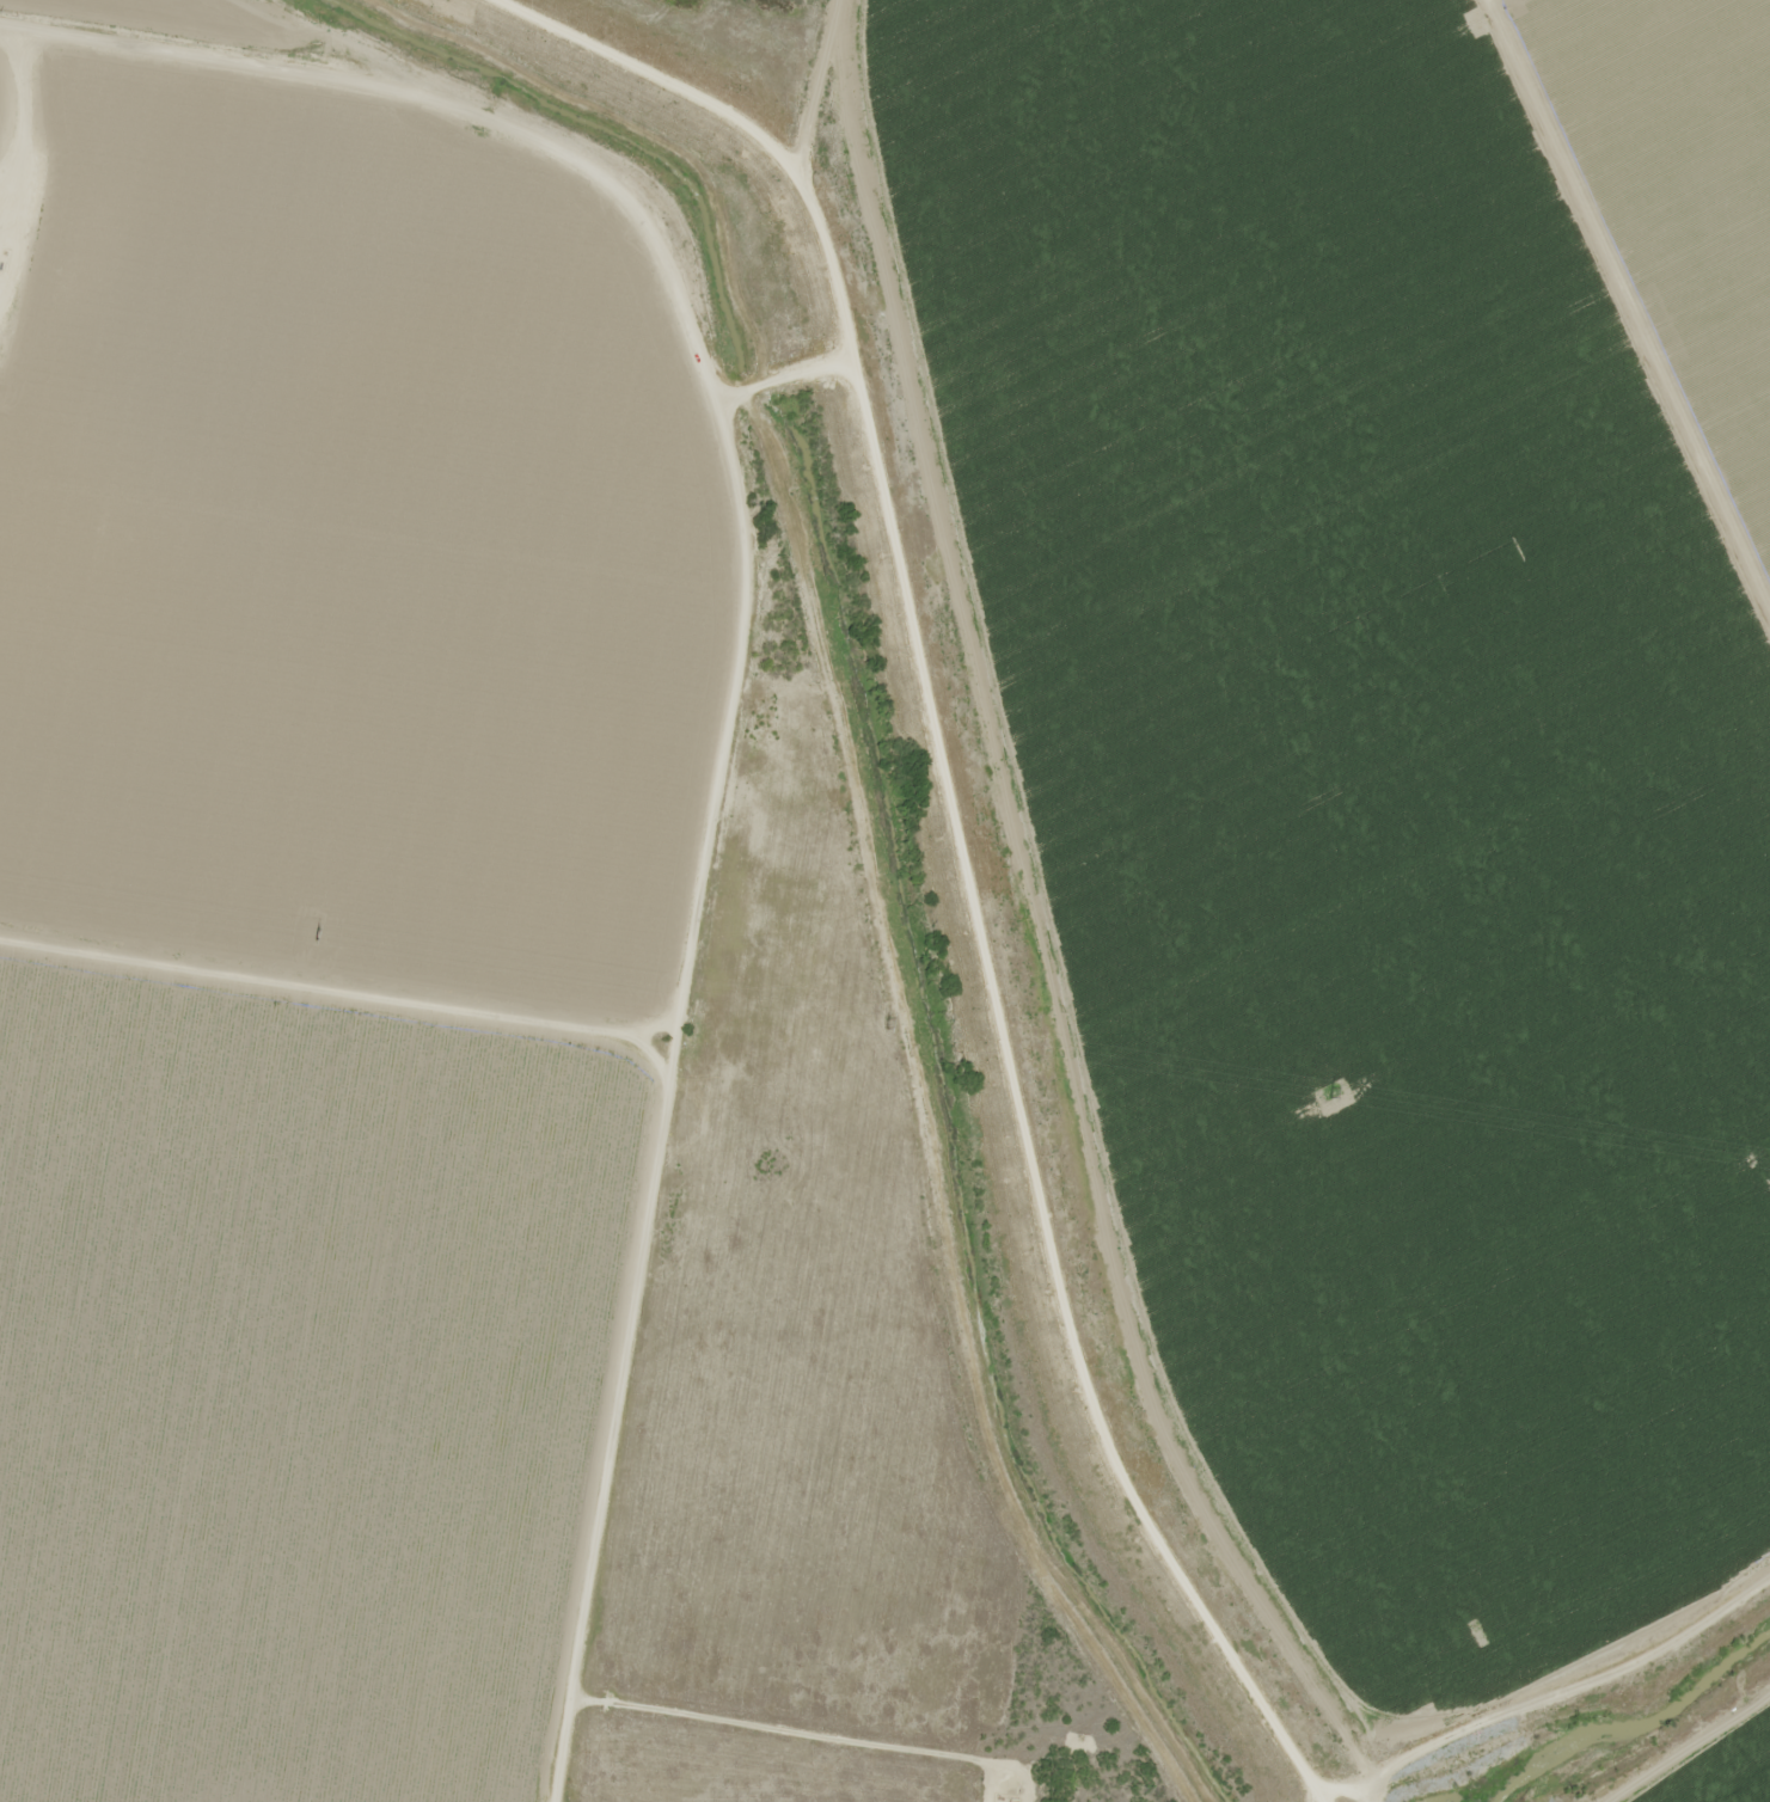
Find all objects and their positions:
road: (237, 79)
road: (1677, 299)
road: (1153, 836)
road: (716, 903)
power tower: (317, 933)
power tower: (888, 1023)
power tower: (1330, 1091)
road: (1035, 1130)
road: (821, 1721)
road: (1315, 1771)

